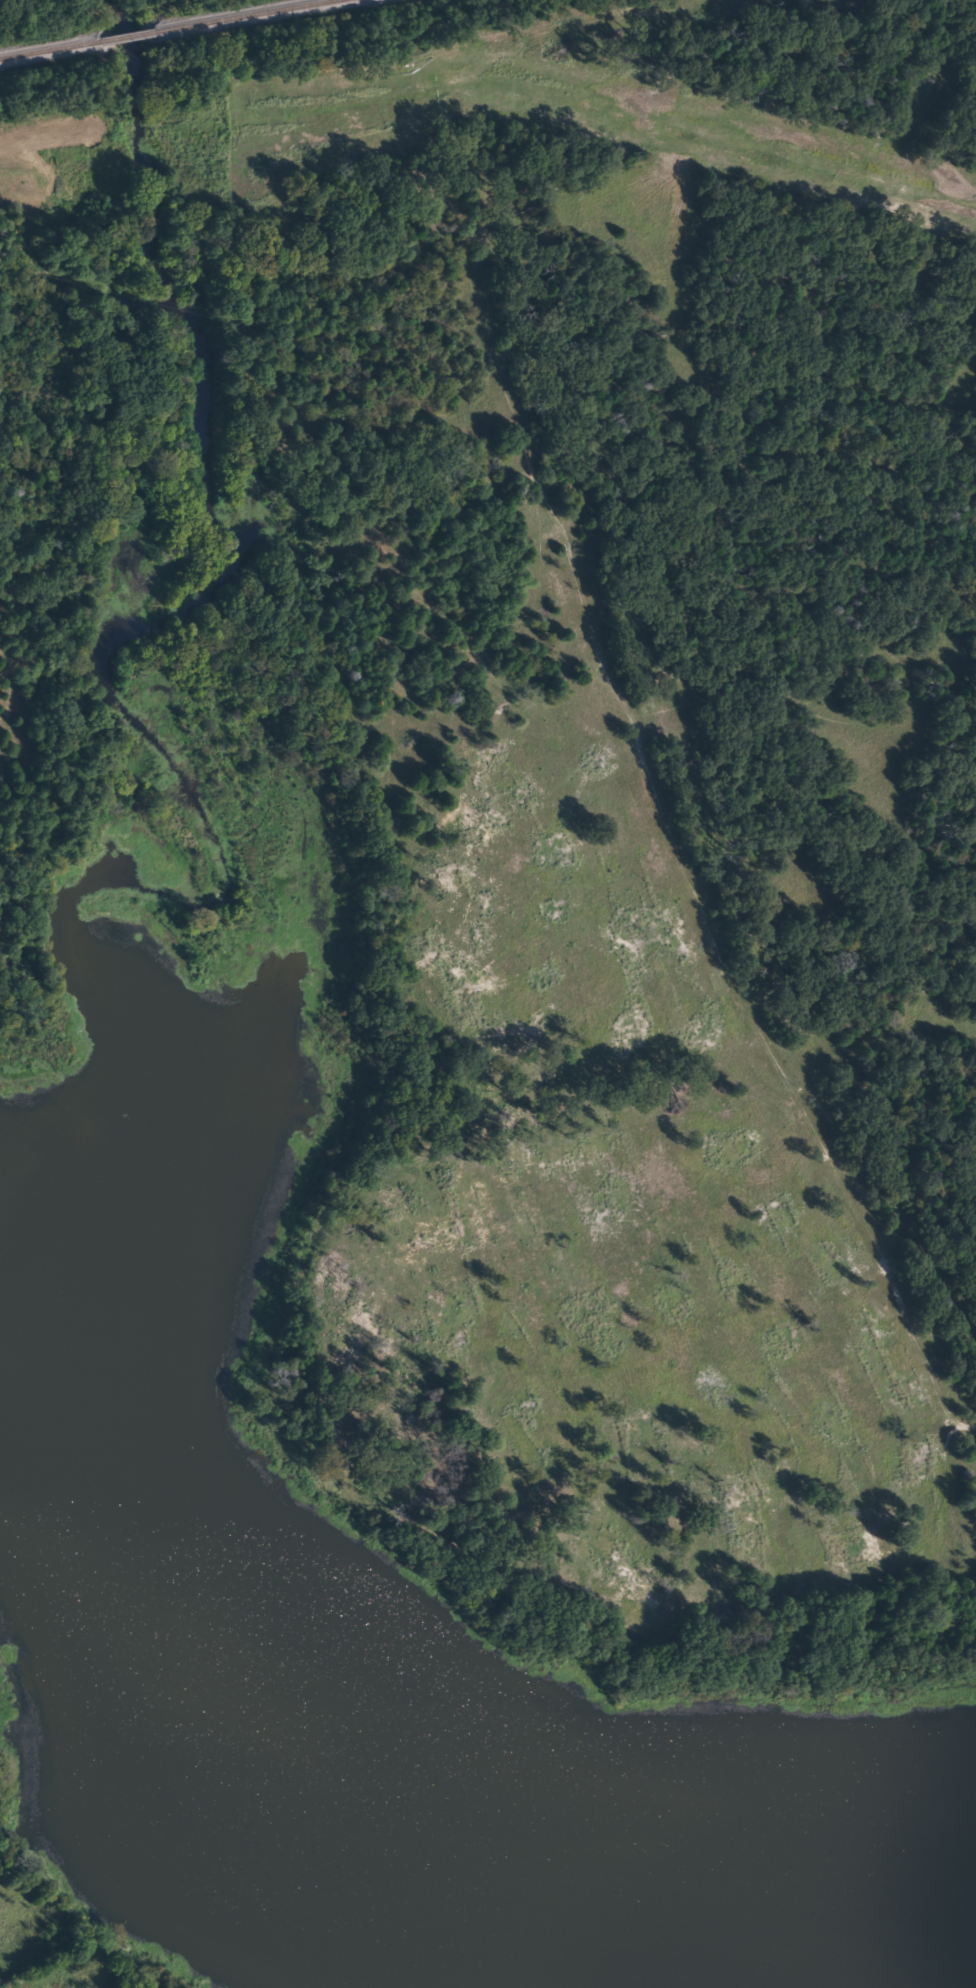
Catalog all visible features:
railway: (140, 24)

